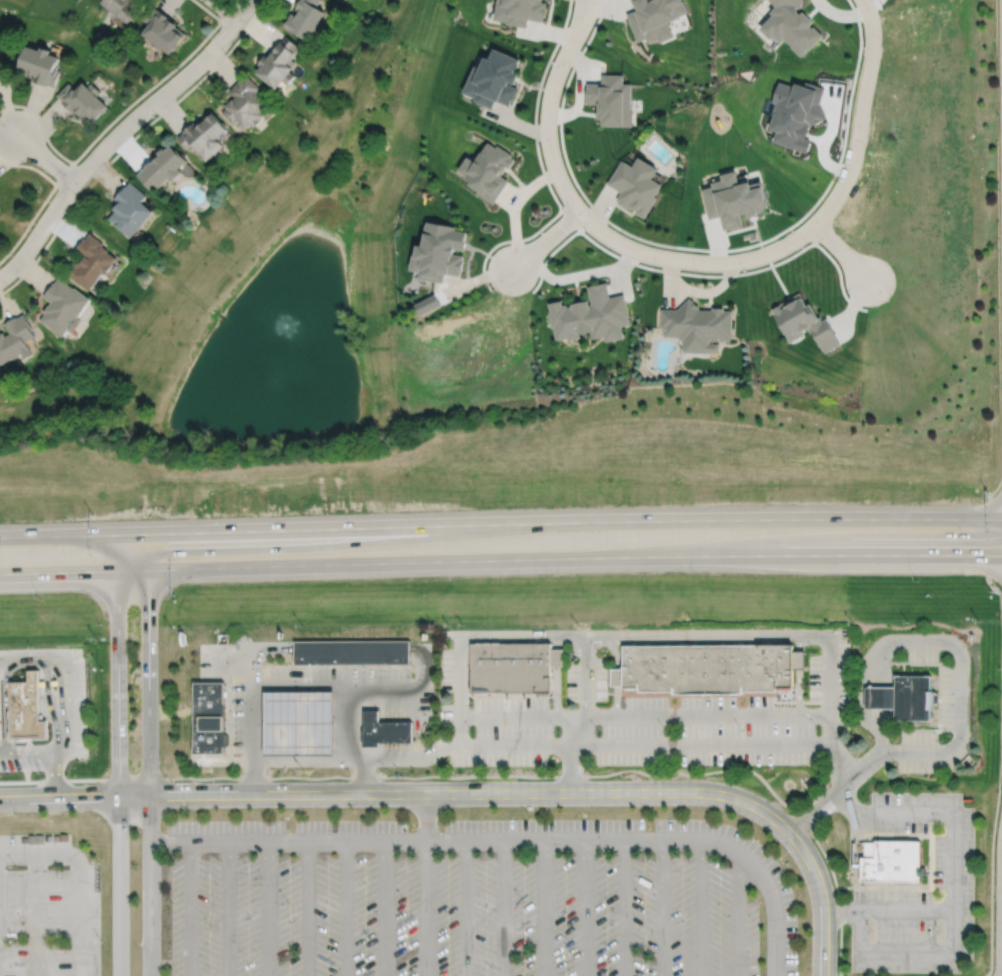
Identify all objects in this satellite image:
road: (583, 4)
road: (586, 4)
road: (878, 4)
building: (122, 9)
road: (226, 9)
building: (520, 12)
building: (654, 17)
building: (305, 19)
building: (791, 24)
building: (160, 30)
road: (859, 33)
street lamp: (883, 43)
building: (279, 61)
building: (40, 63)
street lamp: (551, 63)
building: (1, 71)
building: (494, 77)
road: (165, 93)
building: (83, 99)
building: (611, 99)
building: (245, 101)
building: (203, 134)
road: (128, 141)
street lamp: (539, 143)
street lamp: (866, 150)
road: (44, 158)
building: (162, 166)
road: (541, 167)
building: (488, 170)
building: (634, 185)
building: (733, 199)
building: (130, 208)
road: (594, 209)
road: (570, 218)
road: (39, 231)
street lamp: (587, 234)
road: (546, 239)
street lamp: (807, 243)
building: (439, 251)
road: (1000, 251)
road: (841, 252)
building: (91, 260)
road: (706, 262)
street lamp: (696, 272)
road: (698, 274)
building: (63, 306)
building: (590, 315)
building: (804, 322)
building: (697, 326)
fountain: (287, 330)
building: (16, 338)
road: (996, 498)
road: (500, 524)
traffic signals: (149, 534)
traffic signals: (117, 535)
road: (990, 538)
traffic signals: (982, 556)
road: (500, 560)
traffic signals: (149, 571)
traffic signals: (117, 572)
road: (996, 577)
road: (826, 638)
road: (344, 652)
building: (354, 652)
road: (25, 653)
building: (561, 657)
building: (799, 659)
road: (20, 664)
building: (514, 667)
building: (709, 667)
road: (235, 672)
road: (799, 676)
building: (617, 677)
road: (588, 678)
road: (293, 689)
road: (881, 692)
parking lot: (642, 695)
road: (873, 698)
road: (890, 698)
building: (917, 698)
building: (883, 699)
road: (46, 700)
building: (26, 710)
road: (643, 716)
building: (211, 717)
road: (63, 722)
building: (301, 723)
road: (404, 725)
road: (386, 726)
road: (395, 726)
parking lot: (941, 726)
building: (382, 730)
road: (350, 744)
road: (939, 751)
road: (4, 753)
road: (117, 755)
road: (148, 755)
road: (571, 755)
road: (841, 760)
road: (334, 761)
road: (999, 774)
road: (52, 775)
road: (463, 793)
road: (59, 797)
road: (425, 816)
road: (530, 839)
road: (168, 840)
building: (890, 860)
road: (78, 880)
road: (954, 884)
parking lot: (919, 891)
parking lot: (475, 899)
road: (821, 905)
parking lot: (47, 907)
road: (426, 907)
road: (463, 907)
road: (501, 907)
road: (542, 907)
road: (583, 907)
road: (623, 907)
road: (662, 907)
road: (697, 907)
road: (187, 908)
road: (226, 908)
road: (267, 908)
road: (306, 908)
road: (343, 908)
road: (383, 908)
road: (887, 910)
road: (35, 916)
road: (738, 918)
street lamp: (809, 961)
street lamp: (987, 964)

